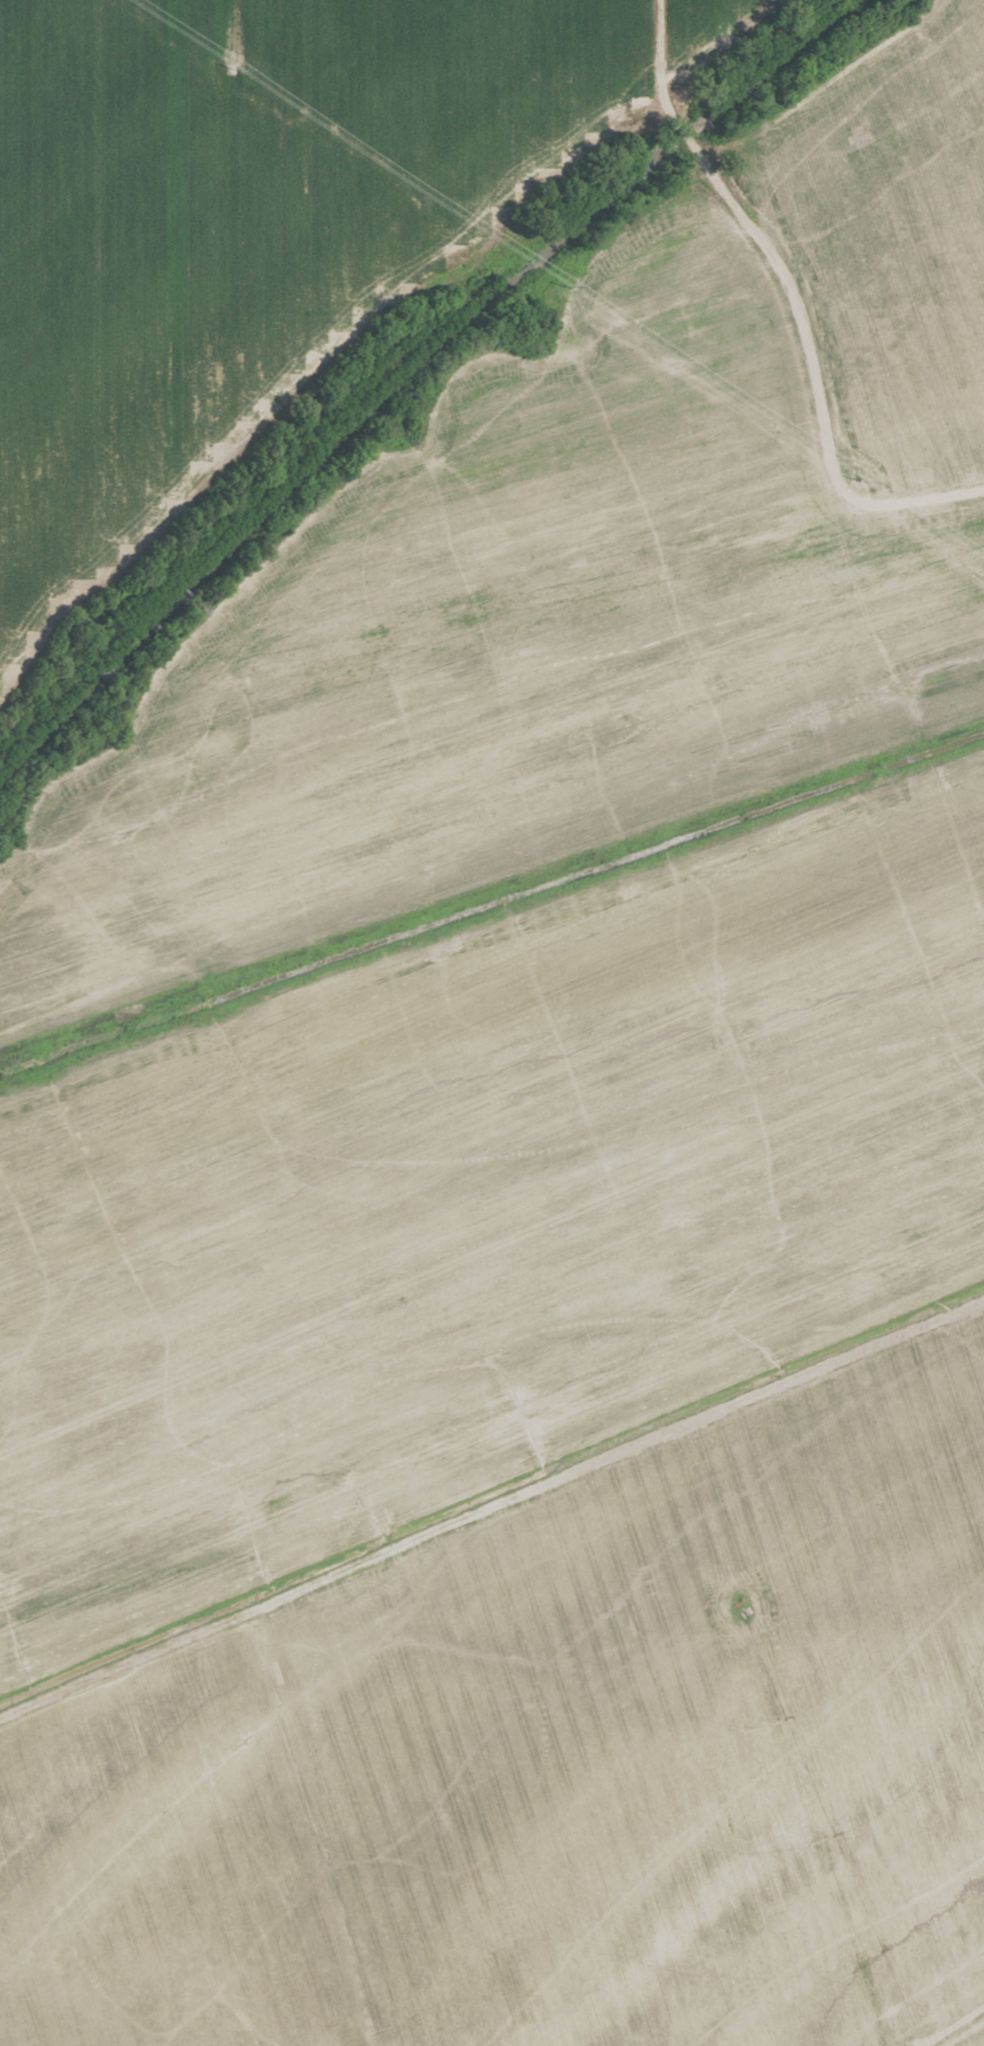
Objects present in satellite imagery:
road: (789, 307)
road: (491, 1494)
road: (952, 2026)

